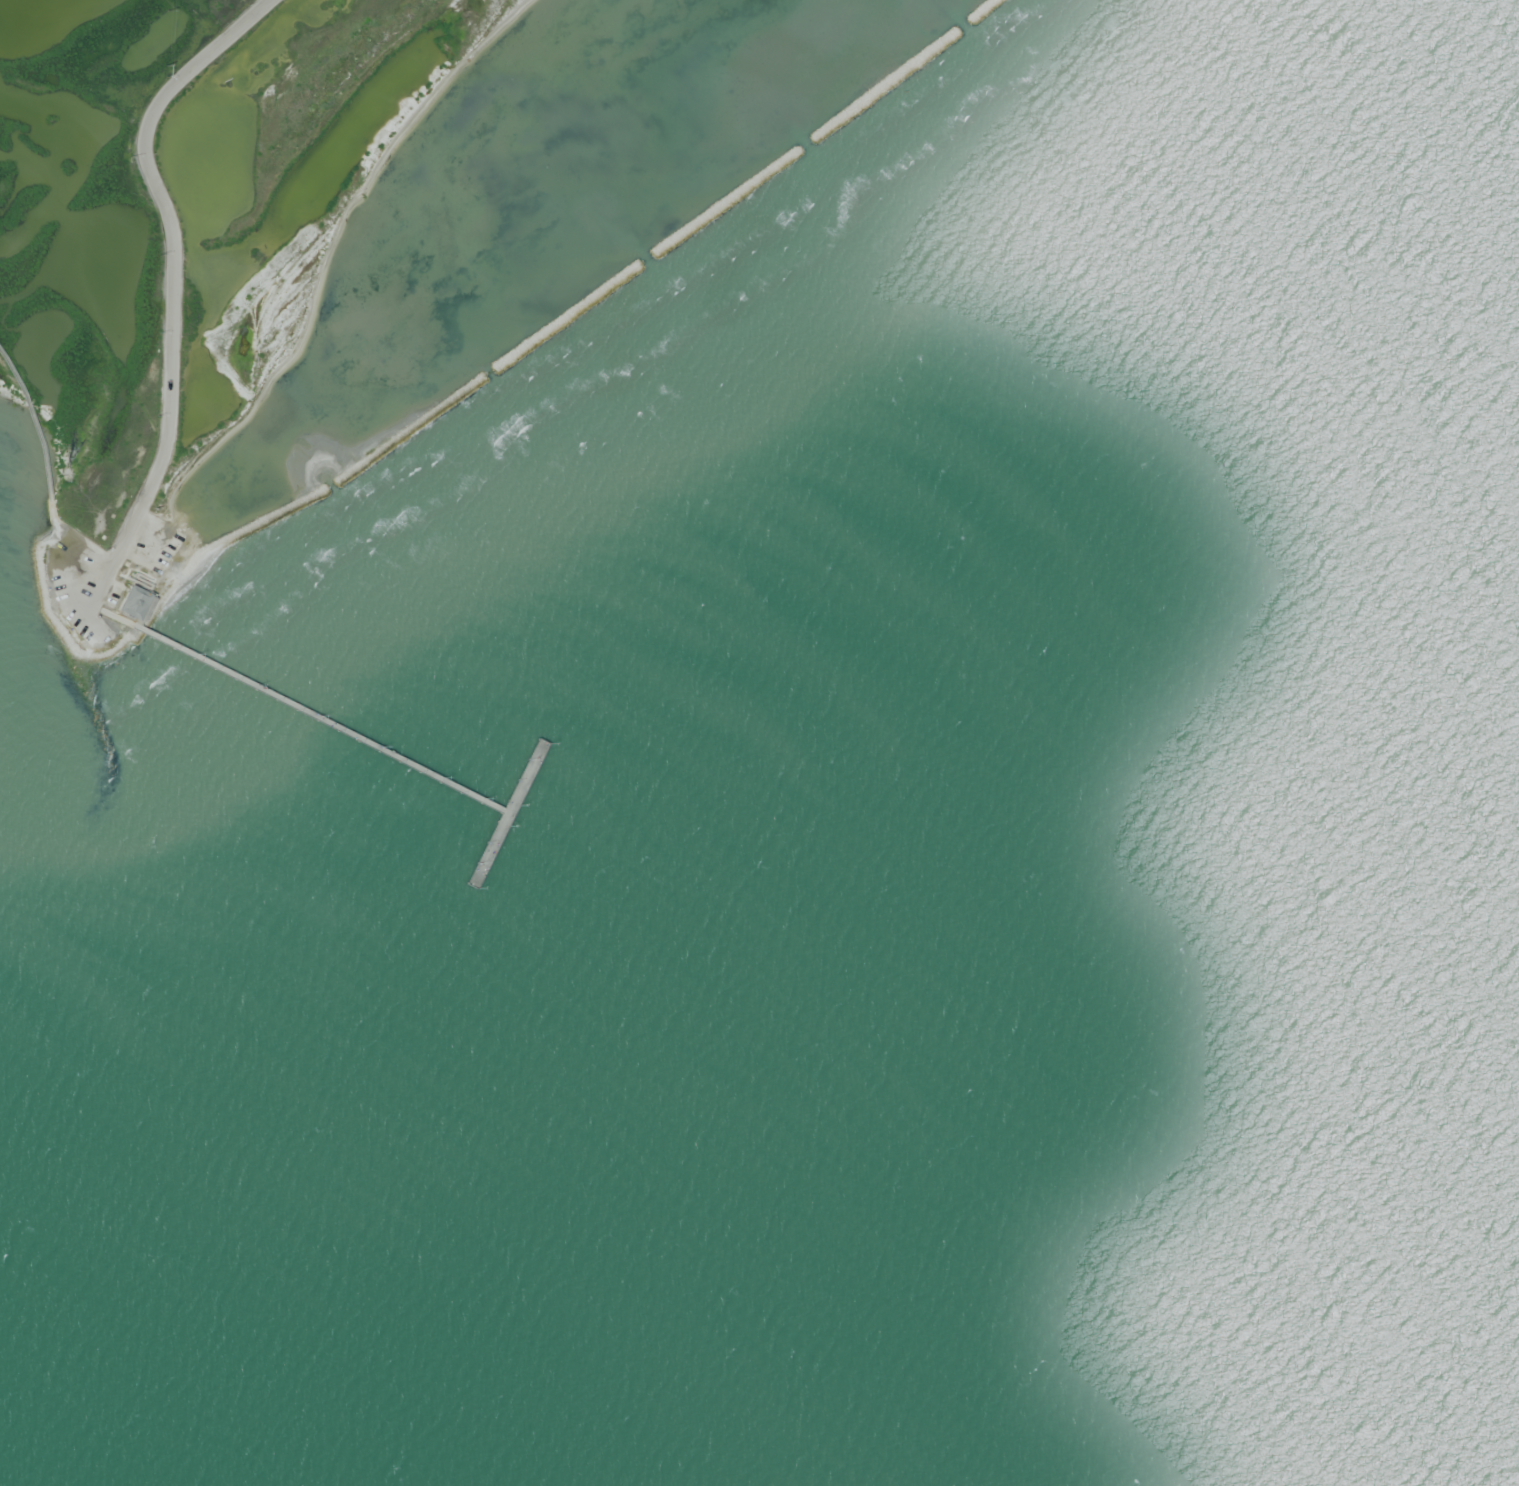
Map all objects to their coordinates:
park: (182, 241)
road: (171, 288)
road: (33, 422)
road: (57, 525)
road: (69, 560)
parking lot: (83, 574)
building: (131, 601)
pier: (302, 709)
pier: (512, 811)

